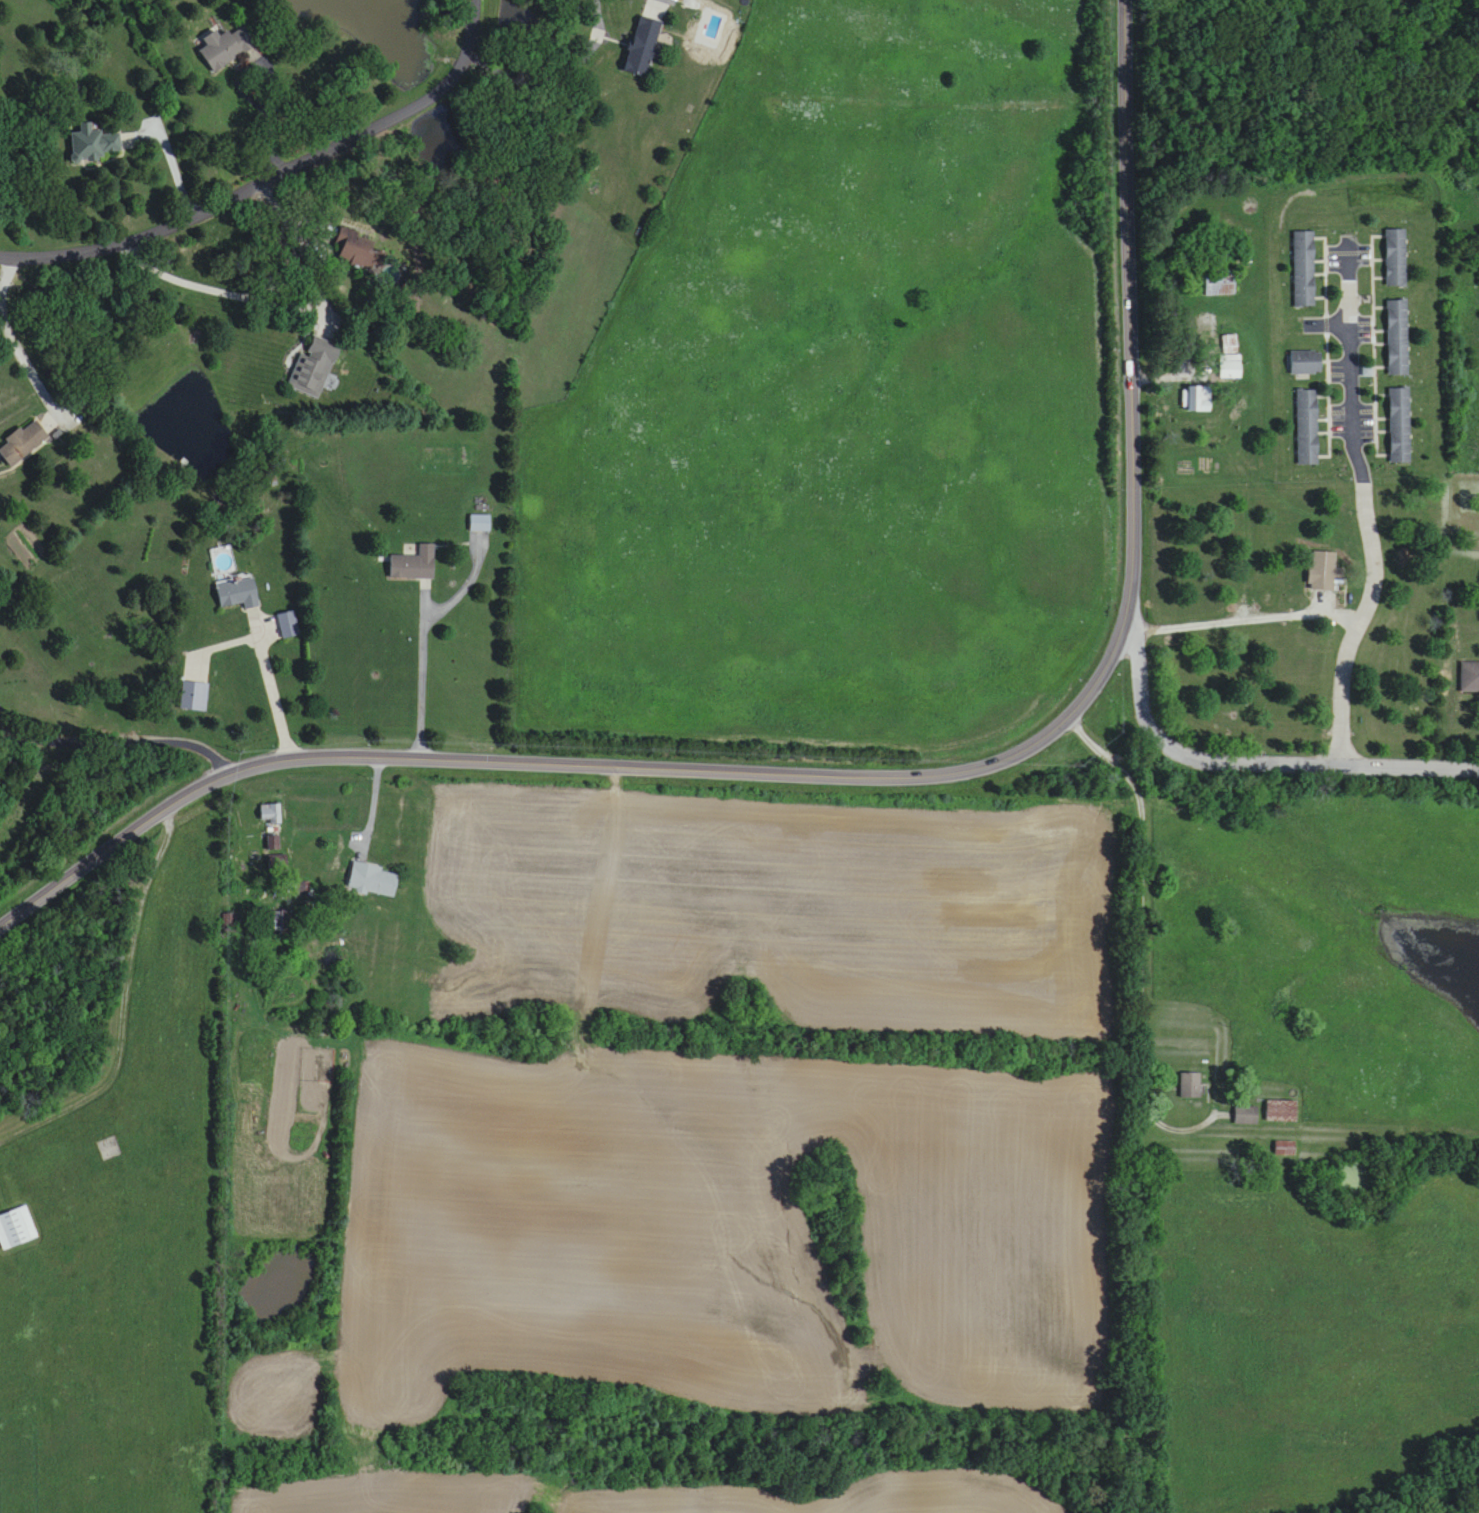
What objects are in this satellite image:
building: (646, 38)
building: (225, 48)
road: (556, 68)
road: (268, 75)
building: (91, 144)
road: (173, 165)
road: (272, 180)
building: (359, 251)
building: (1395, 259)
building: (1303, 270)
building: (1218, 284)
road: (225, 291)
building: (1397, 338)
building: (1229, 344)
road: (18, 347)
building: (1305, 362)
building: (315, 368)
building: (1229, 369)
building: (1196, 400)
building: (1398, 426)
building: (1306, 428)
building: (24, 442)
road: (1367, 506)
building: (480, 524)
road: (1284, 528)
building: (414, 564)
building: (1322, 571)
building: (237, 592)
road: (1302, 614)
building: (288, 625)
road: (424, 632)
building: (1470, 677)
road: (272, 684)
building: (194, 696)
road: (116, 731)
road: (1247, 761)
road: (884, 775)
building: (270, 813)
road: (373, 815)
building: (371, 880)
road: (1143, 932)
road: (124, 1002)
building: (1189, 1085)
building: (1281, 1111)
building: (1246, 1115)
building: (1284, 1148)
road: (2, 1195)
building: (16, 1228)

